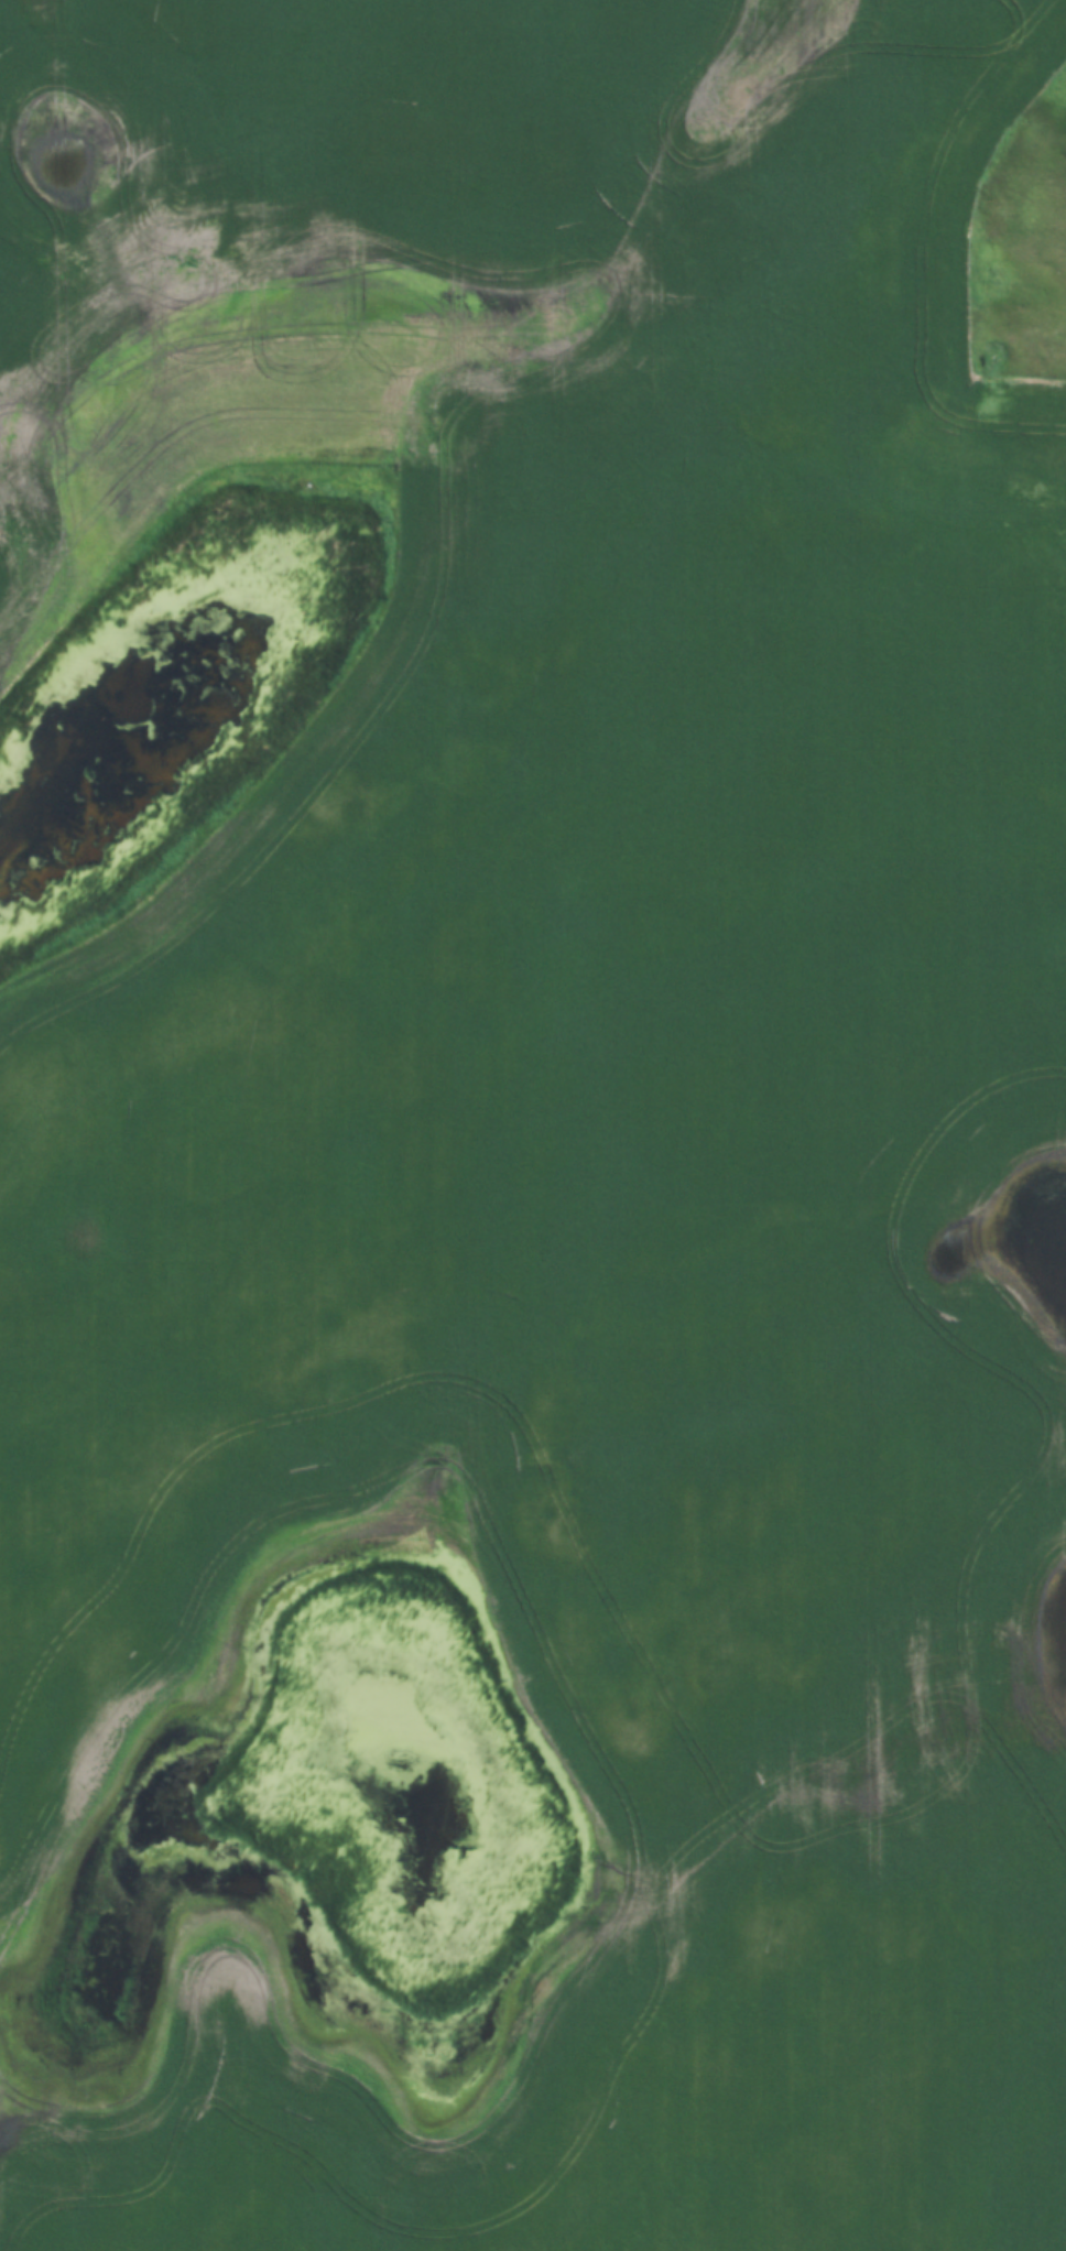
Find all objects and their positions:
road: (973, 243)

